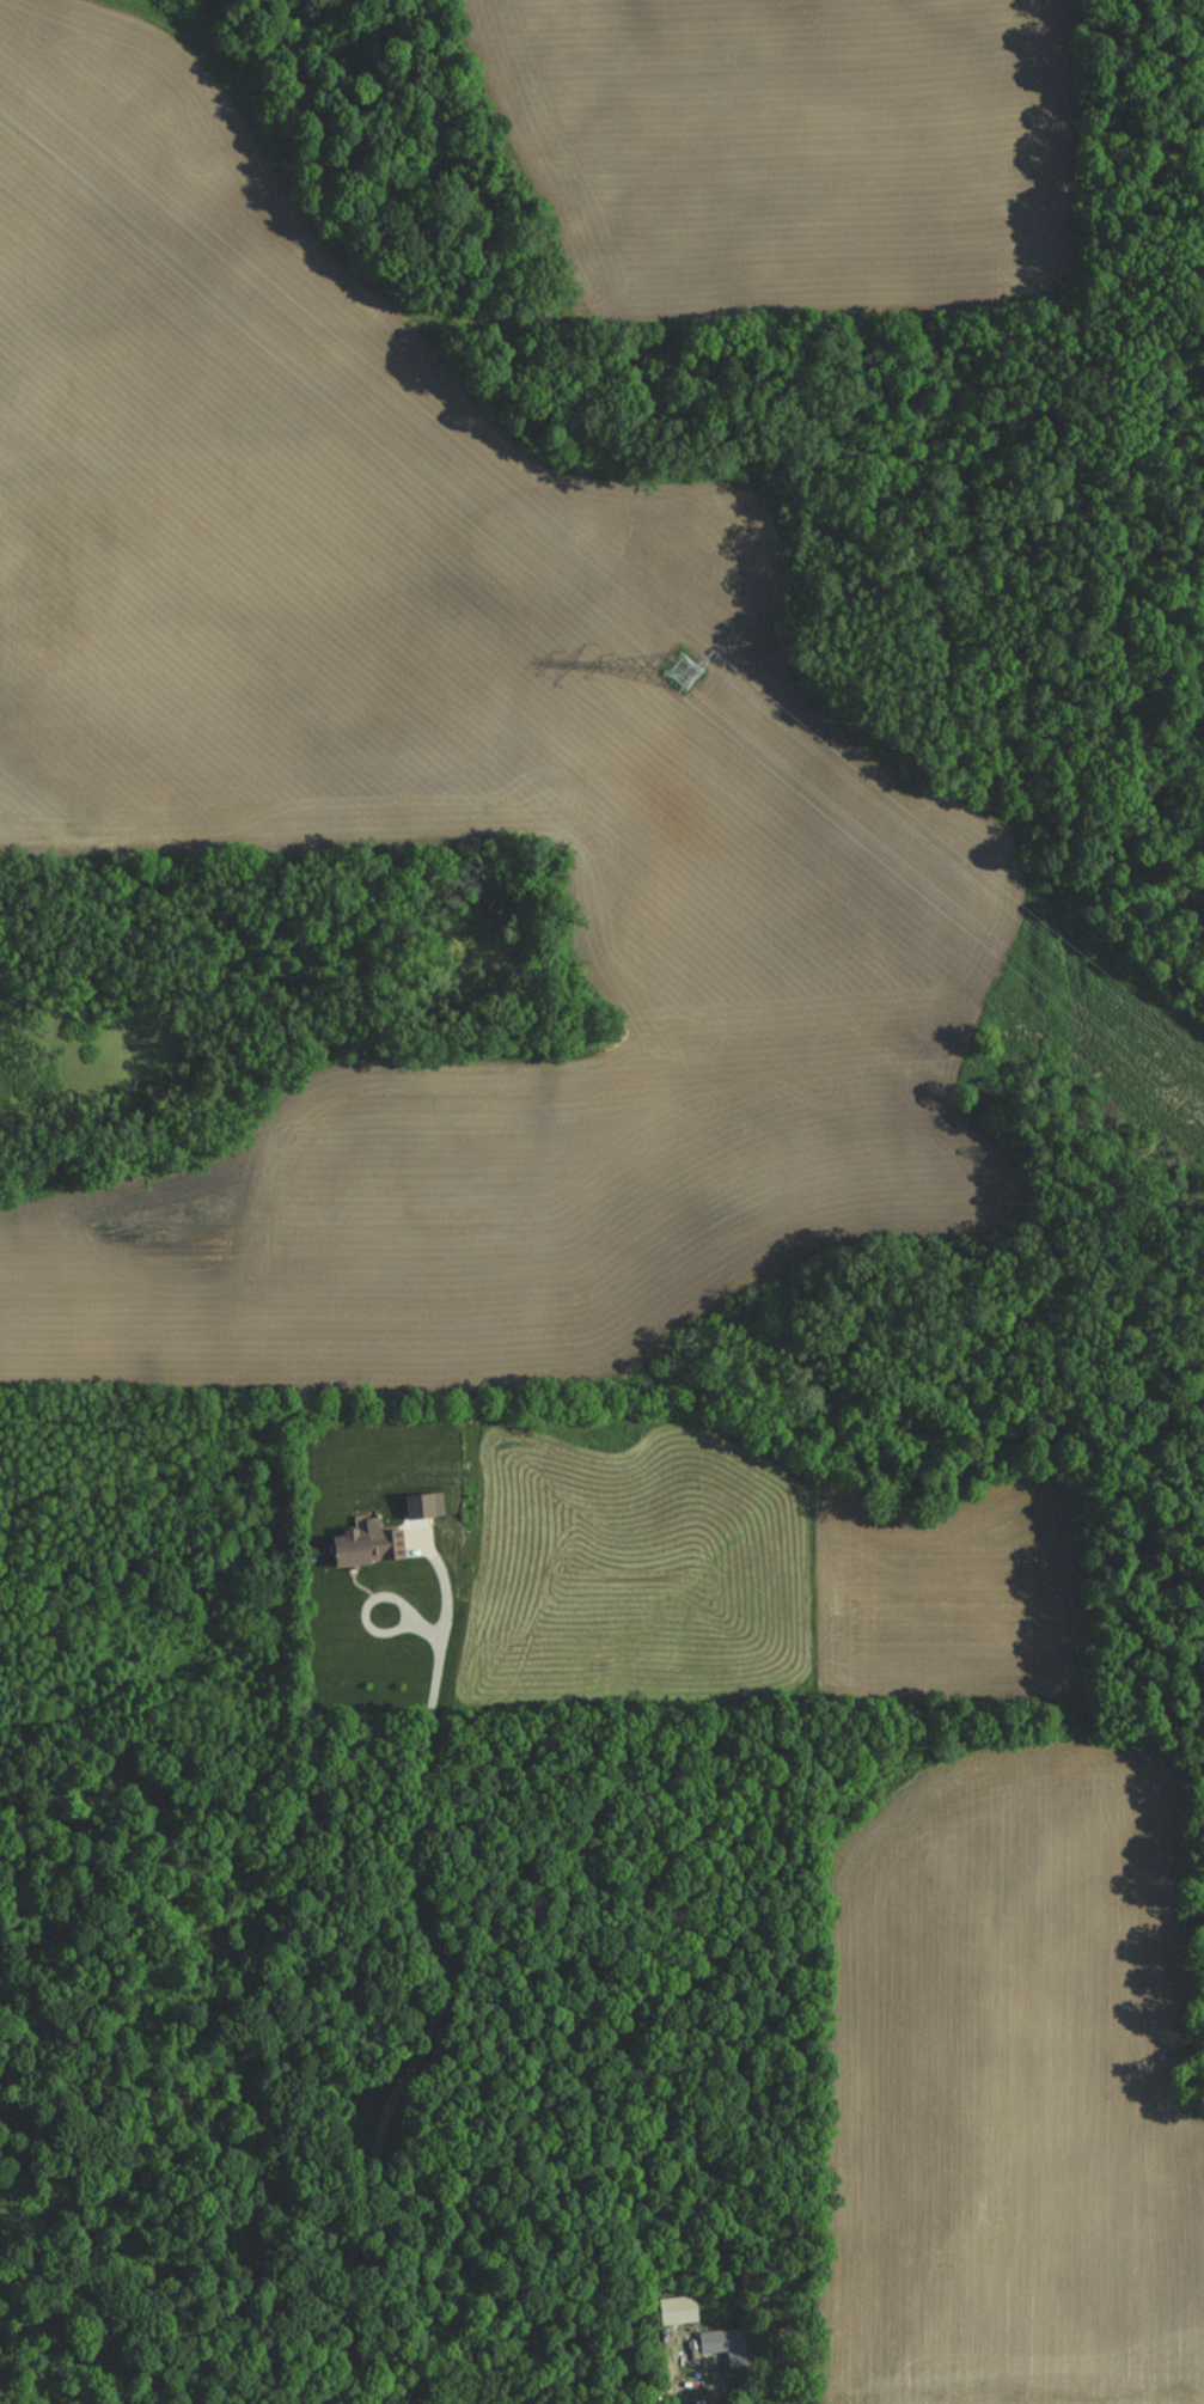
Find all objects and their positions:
power tower: (680, 673)
building: (360, 1544)
road: (445, 1971)
building: (720, 2342)

